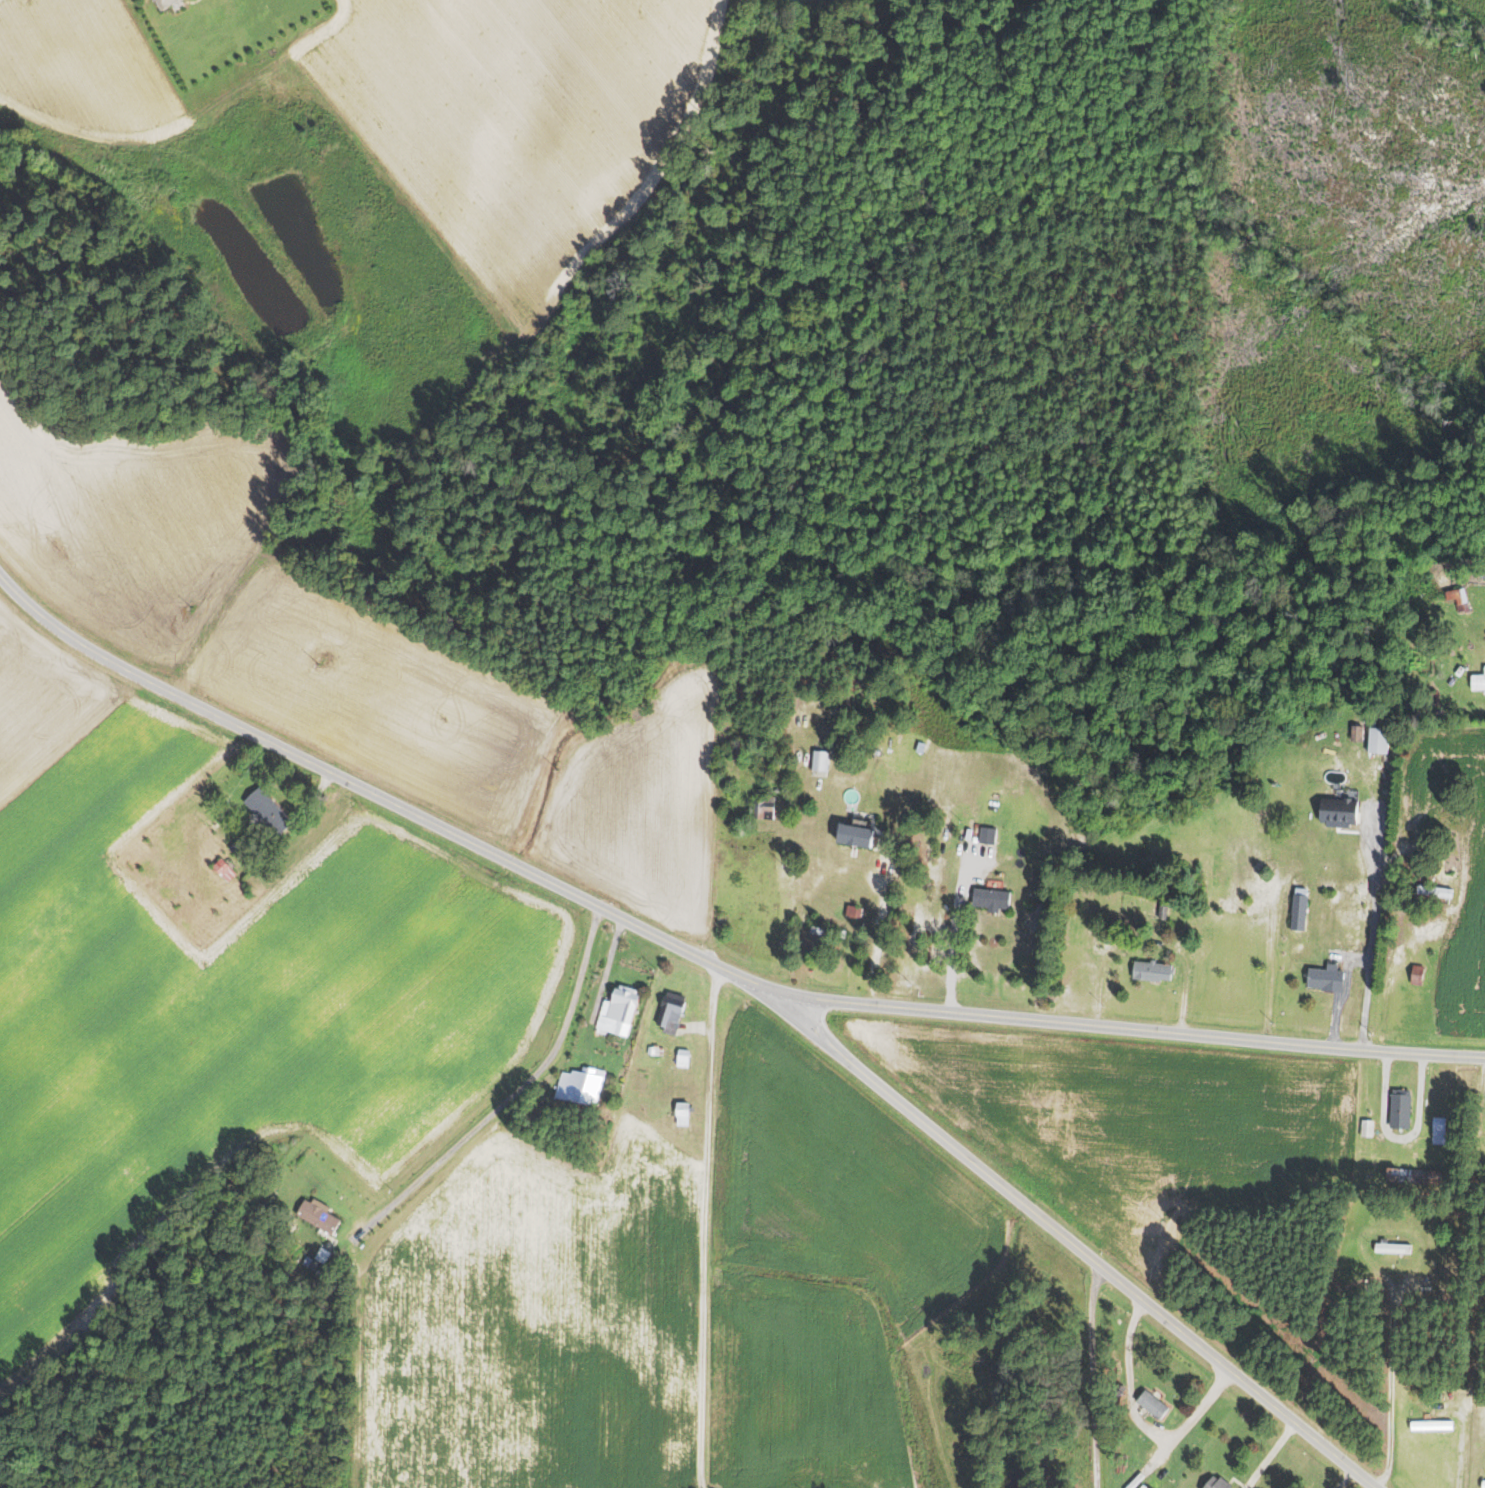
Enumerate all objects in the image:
crop: (790, 0)
building: (163, 4)
crop: (86, 66)
crop: (517, 120)
building: (1457, 598)
crop: (263, 613)
building: (1477, 681)
building: (1356, 733)
building: (1376, 739)
building: (919, 746)
building: (735, 752)
building: (818, 760)
road: (312, 797)
crop: (640, 805)
building: (762, 807)
building: (267, 812)
building: (1337, 813)
building: (853, 835)
building: (986, 835)
building: (231, 846)
building: (223, 869)
building: (1433, 891)
building: (990, 898)
building: (853, 911)
building: (1161, 911)
building: (1297, 911)
road: (804, 927)
building: (826, 931)
road: (953, 934)
road: (1371, 936)
road: (879, 937)
road: (1145, 939)
road: (697, 958)
road: (1267, 963)
road: (1390, 968)
building: (1150, 970)
building: (1416, 975)
building: (1324, 979)
road: (603, 981)
road: (1343, 995)
crop: (214, 997)
building: (667, 1009)
building: (617, 1011)
road: (695, 1027)
building: (654, 1051)
building: (682, 1058)
building: (579, 1085)
road: (511, 1095)
road: (1479, 1105)
building: (1400, 1108)
building: (680, 1109)
crop: (1128, 1121)
building: (1366, 1128)
building: (1437, 1131)
road: (1399, 1138)
building: (1412, 1176)
building: (316, 1214)
road: (704, 1227)
road: (1066, 1240)
building: (1391, 1248)
building: (321, 1255)
crop: (822, 1267)
crop: (537, 1323)
road: (356, 1360)
road: (1094, 1377)
road: (1390, 1384)
building: (1151, 1404)
road: (1140, 1419)
building: (1431, 1425)
road: (1460, 1451)
road: (1268, 1455)
road: (1347, 1480)
building: (1216, 1483)
building: (1484, 1485)
building: (1148, 1487)

